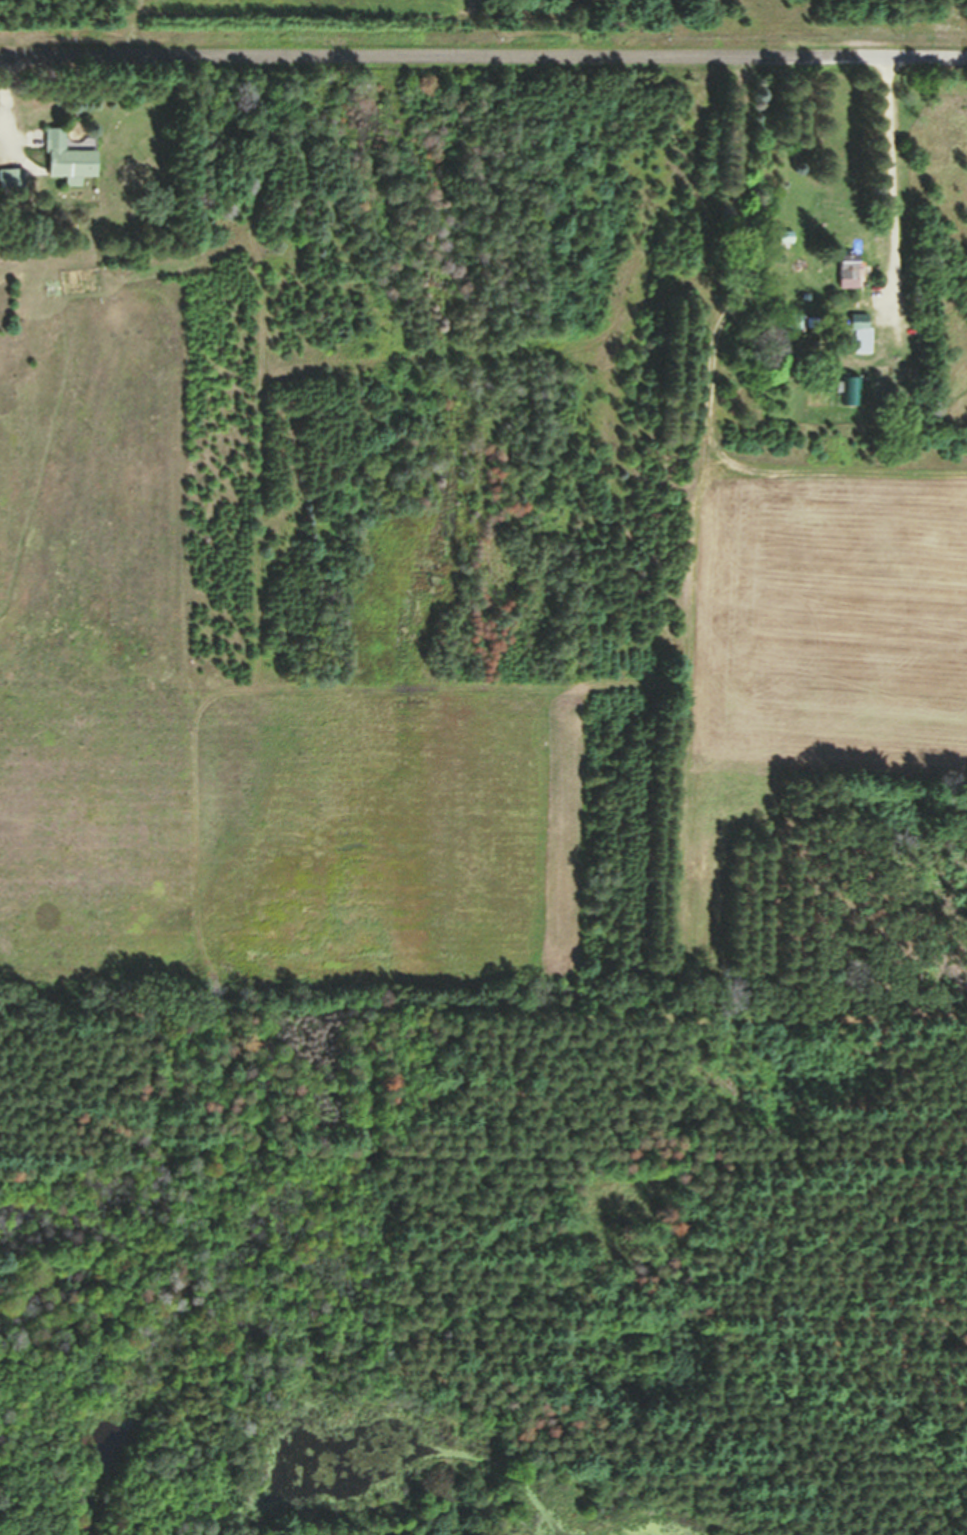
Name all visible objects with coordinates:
road: (368, 28)
road: (483, 57)
building: (72, 166)
building: (13, 185)
building: (850, 281)
building: (865, 342)
building: (854, 398)

